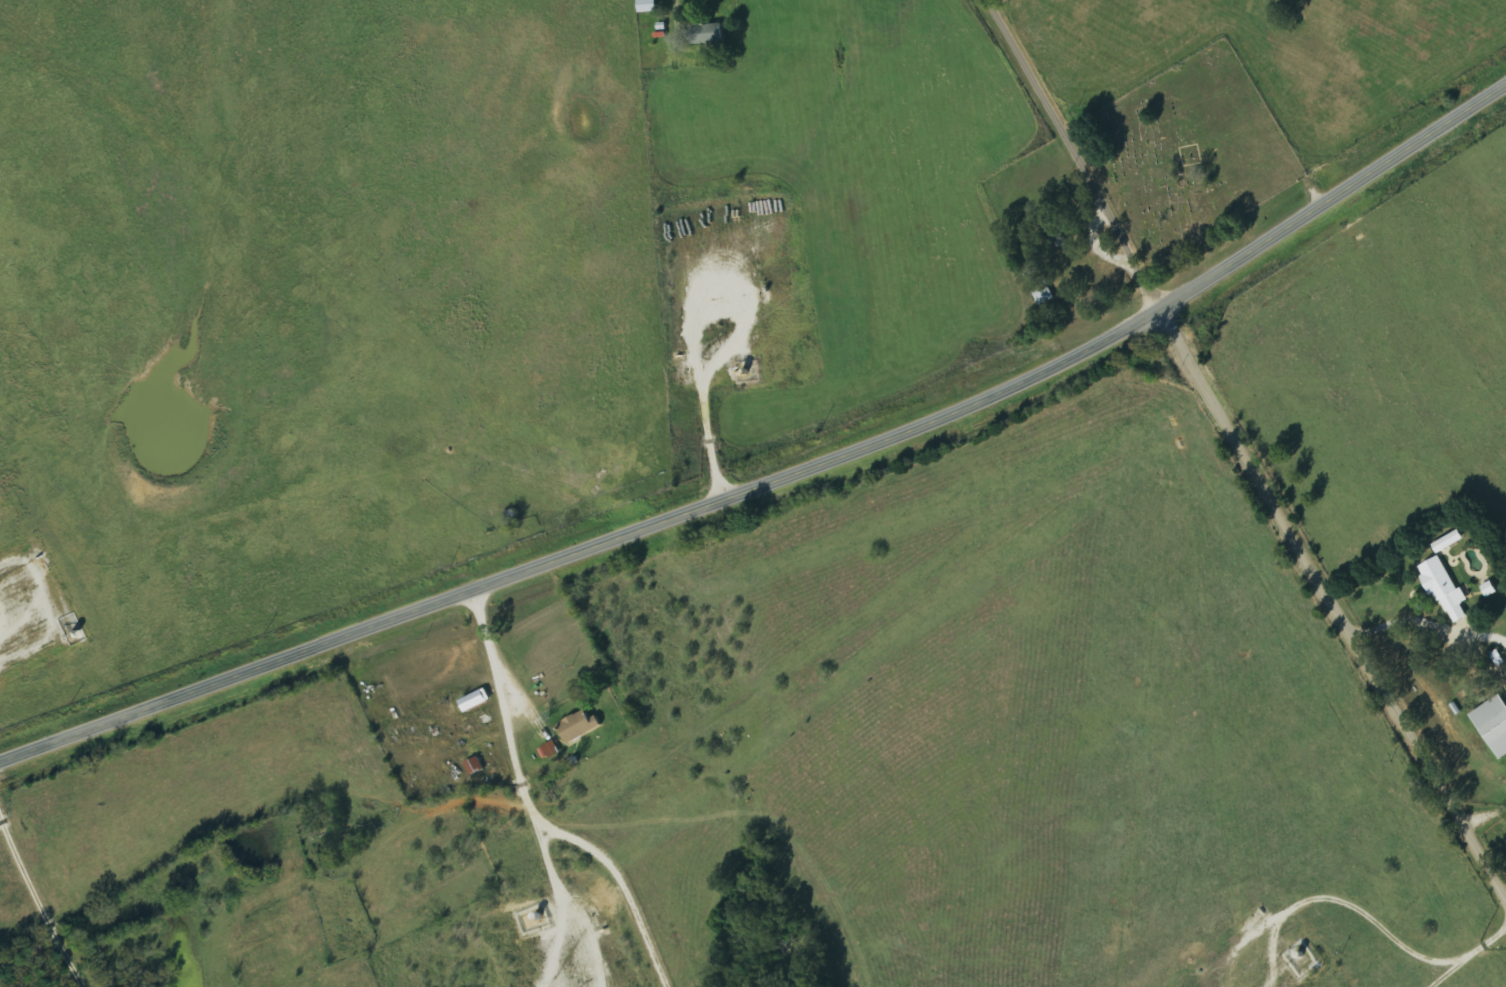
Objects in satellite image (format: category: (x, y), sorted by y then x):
building: (649, 6)
building: (709, 35)
road: (1074, 153)
park: (1187, 153)
road: (779, 479)
dam: (185, 482)
building: (1450, 542)
building: (1491, 589)
building: (1447, 591)
road: (1333, 605)
building: (477, 701)
building: (1494, 723)
building: (580, 727)
building: (550, 751)
building: (475, 766)
road: (536, 816)

